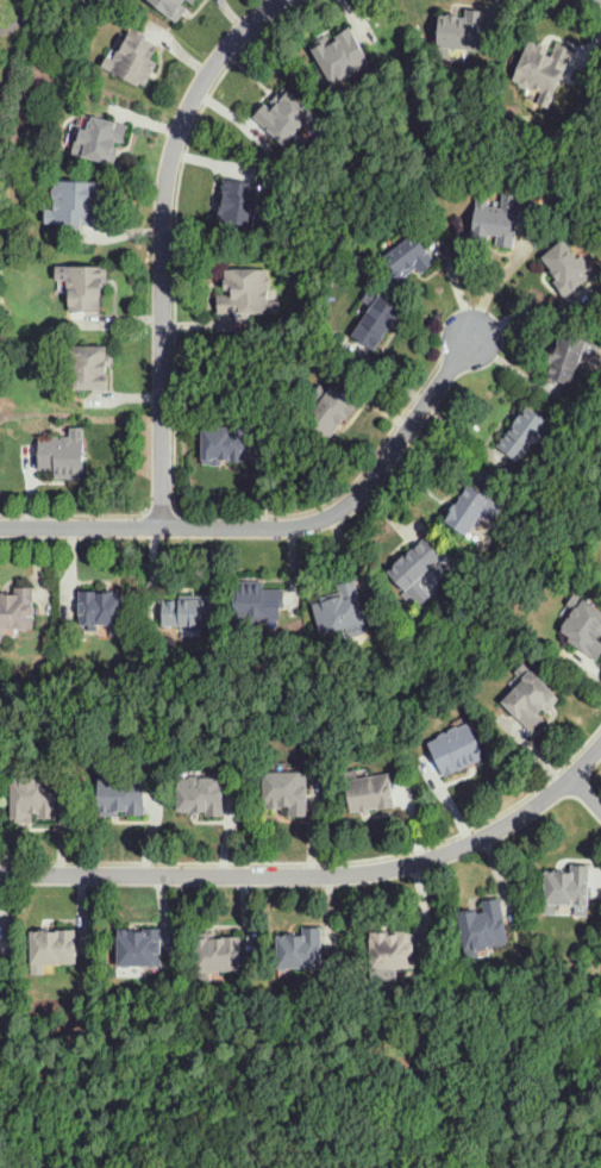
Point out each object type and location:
building: (193, 1)
road: (590, 4)
building: (171, 7)
road: (19, 21)
building: (461, 32)
building: (340, 55)
building: (136, 60)
building: (544, 69)
building: (287, 117)
building: (105, 139)
building: (239, 202)
building: (77, 204)
building: (495, 223)
road: (179, 233)
road: (163, 248)
building: (408, 258)
building: (568, 267)
building: (245, 287)
building: (86, 288)
building: (378, 321)
building: (570, 358)
building: (89, 366)
building: (331, 411)
building: (525, 433)
building: (224, 444)
building: (63, 456)
road: (332, 499)
building: (472, 510)
road: (71, 514)
road: (281, 527)
building: (600, 551)
building: (600, 562)
building: (414, 564)
building: (257, 602)
building: (340, 610)
building: (17, 611)
building: (104, 611)
building: (188, 612)
building: (583, 629)
building: (212, 654)
building: (534, 695)
road: (593, 739)
building: (457, 749)
building: (287, 792)
building: (369, 792)
building: (120, 793)
road: (587, 794)
building: (201, 795)
building: (33, 798)
road: (307, 864)
road: (320, 875)
building: (571, 879)
building: (484, 926)
building: (139, 947)
building: (52, 949)
building: (301, 949)
building: (393, 950)
building: (2, 951)
building: (217, 954)

